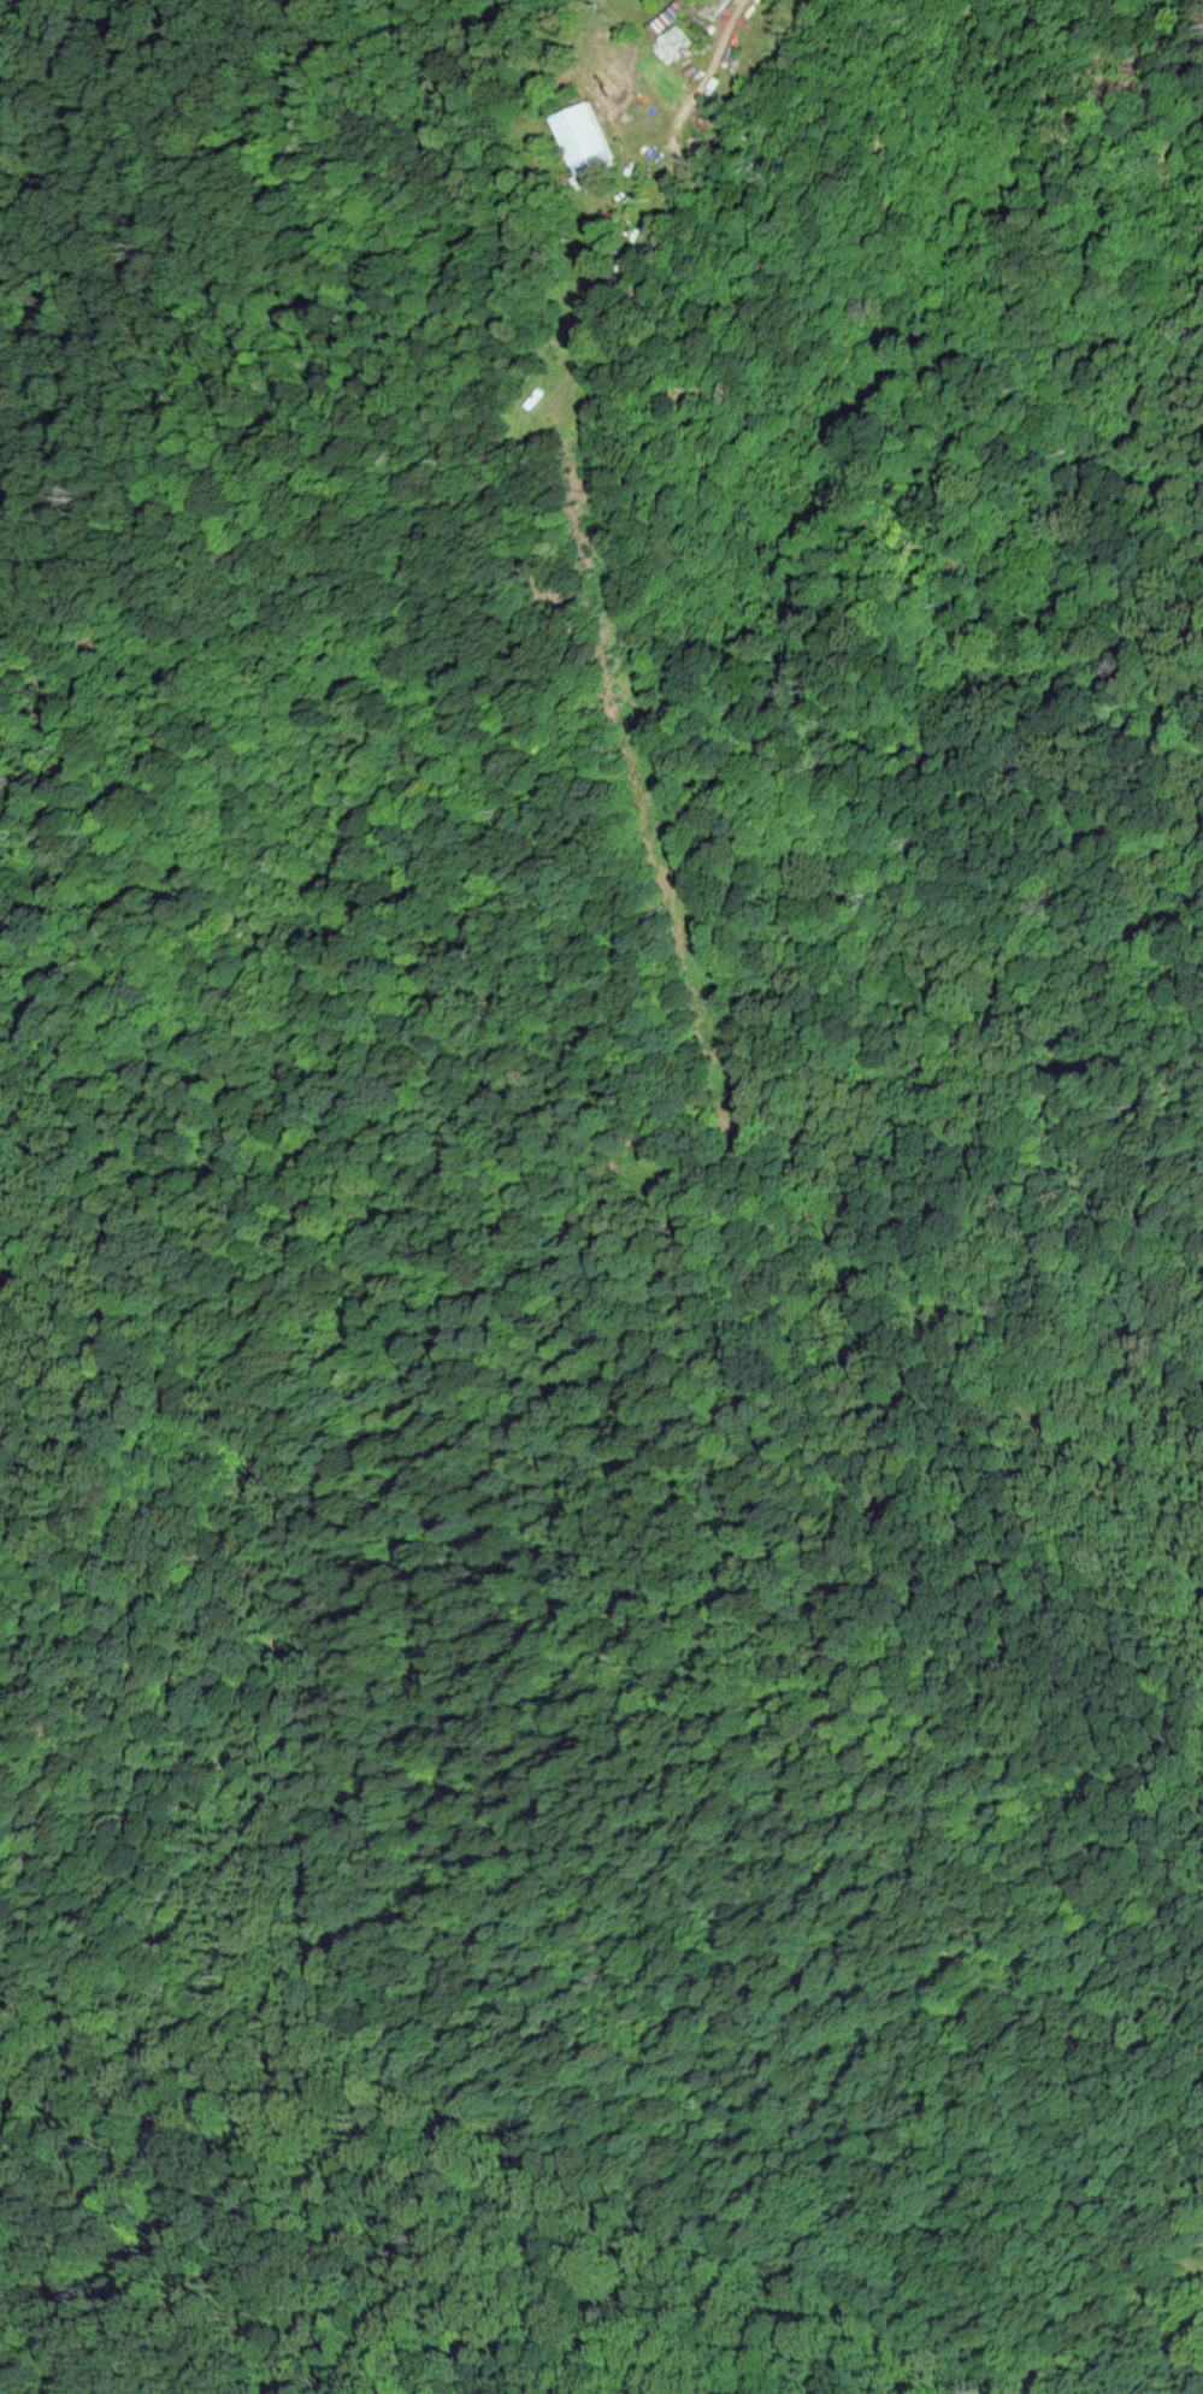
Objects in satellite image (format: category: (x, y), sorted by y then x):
building: (586, 137)

